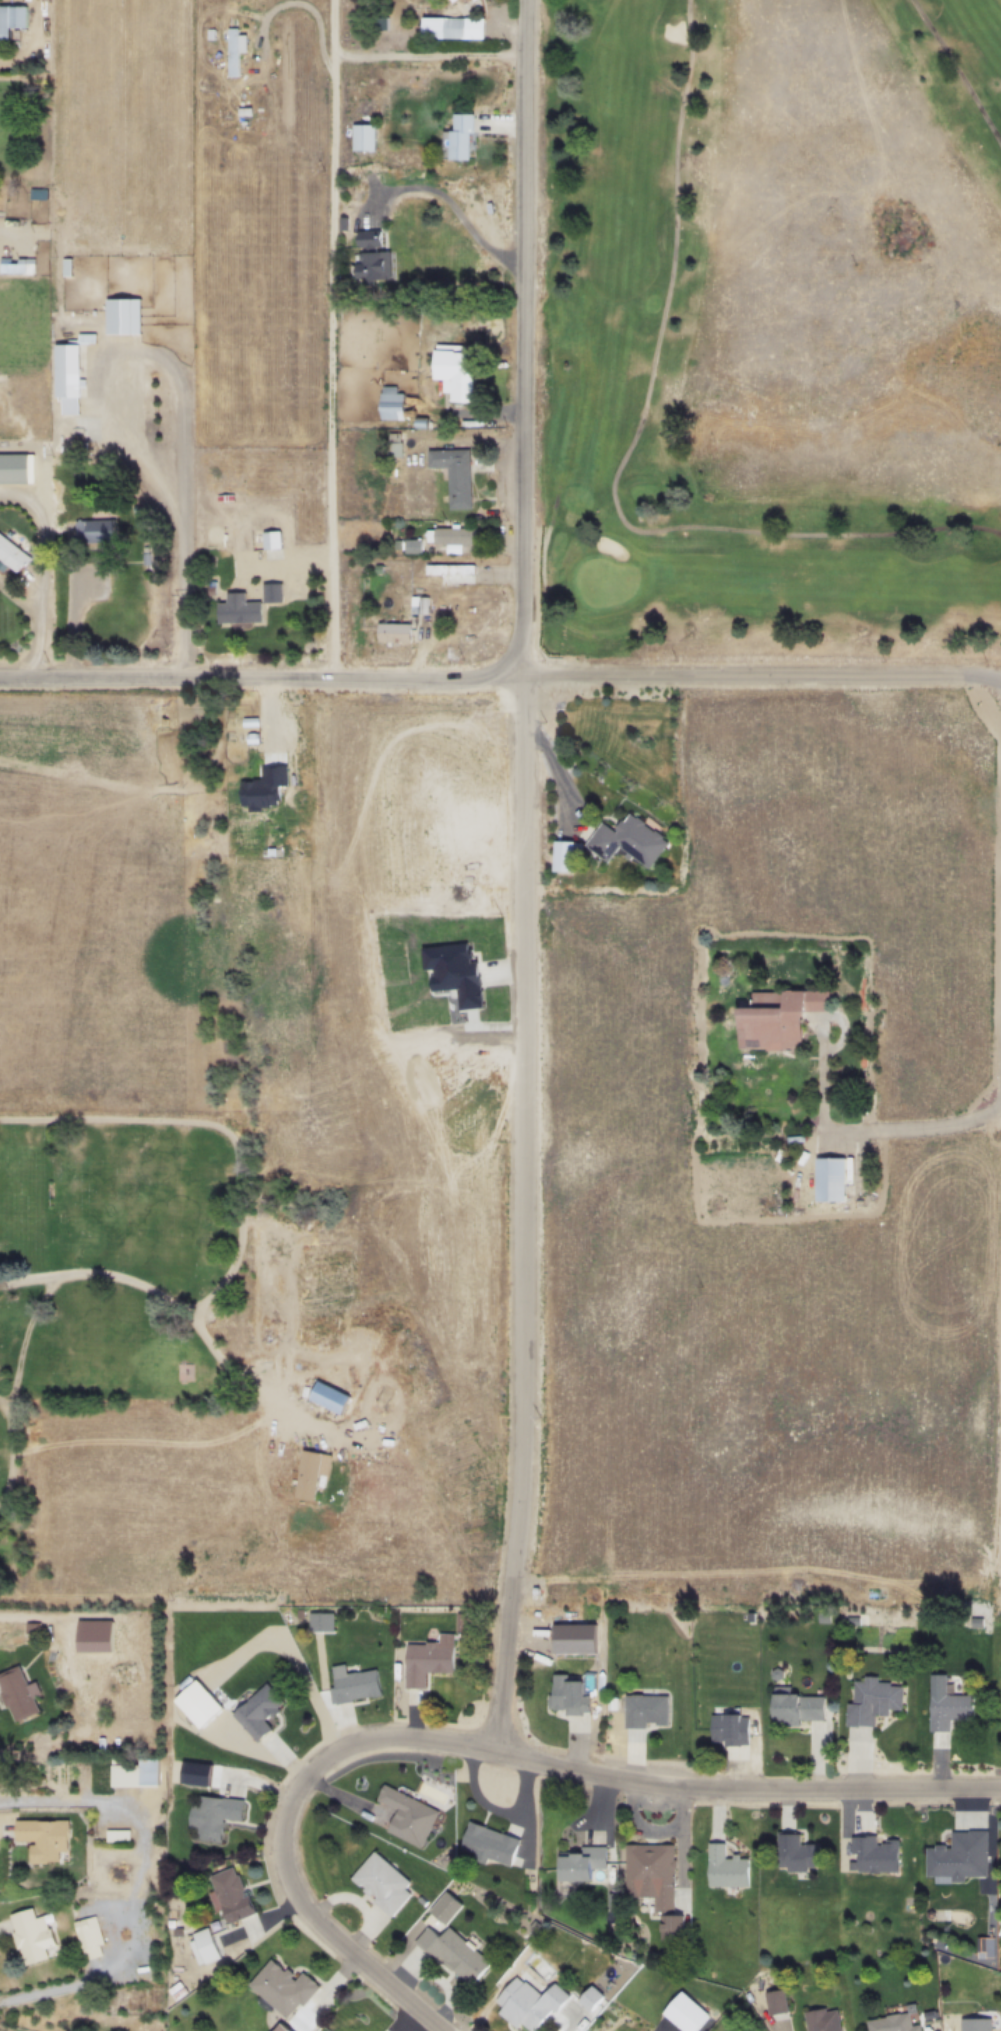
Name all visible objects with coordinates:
building: (474, 2)
building: (11, 19)
building: (463, 31)
building: (222, 37)
building: (246, 54)
road: (432, 59)
building: (256, 116)
building: (374, 140)
building: (472, 140)
road: (469, 226)
building: (380, 243)
building: (21, 266)
building: (386, 269)
road: (338, 342)
building: (66, 370)
building: (463, 375)
building: (400, 406)
road: (101, 410)
building: (404, 448)
building: (13, 468)
building: (464, 477)
building: (95, 531)
building: (463, 539)
building: (281, 543)
building: (422, 550)
building: (11, 557)
road: (44, 571)
building: (462, 576)
building: (281, 595)
building: (426, 607)
building: (248, 612)
building: (404, 636)
road: (500, 682)
road: (529, 799)
building: (639, 843)
building: (575, 858)
building: (777, 1017)
road: (822, 1041)
road: (213, 1129)
road: (914, 1130)
building: (829, 1179)
road: (175, 1304)
road: (25, 1339)
building: (185, 1371)
building: (328, 1397)
road: (11, 1451)
building: (310, 1473)
road: (998, 1503)
building: (31, 1627)
building: (426, 1662)
road: (507, 1675)
building: (354, 1685)
building: (17, 1693)
building: (567, 1695)
building: (870, 1700)
building: (946, 1704)
building: (796, 1707)
building: (202, 1709)
building: (257, 1710)
building: (644, 1710)
building: (730, 1729)
building: (133, 1771)
road: (747, 1792)
building: (212, 1814)
building: (407, 1815)
road: (282, 1832)
building: (117, 1834)
building: (43, 1838)
building: (488, 1843)
building: (793, 1851)
building: (873, 1853)
building: (958, 1855)
building: (580, 1862)
building: (726, 1867)
building: (653, 1881)
building: (381, 1883)
building: (229, 1895)
building: (445, 1907)
building: (87, 1932)
building: (31, 1936)
building: (203, 1947)
building: (453, 1953)
building: (282, 1987)
building: (591, 1998)
building: (529, 2004)
building: (776, 2004)
building: (685, 2012)
building: (822, 2019)
building: (889, 2023)

